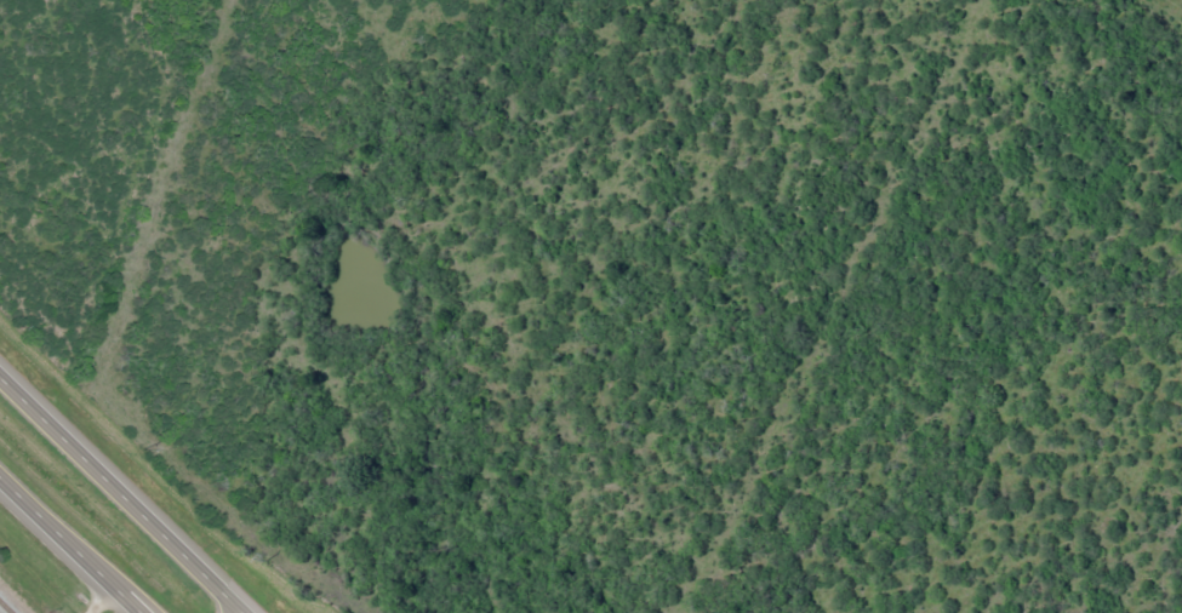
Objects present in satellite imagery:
road: (121, 495)
road: (68, 548)
road: (97, 600)
railway: (2, 609)

